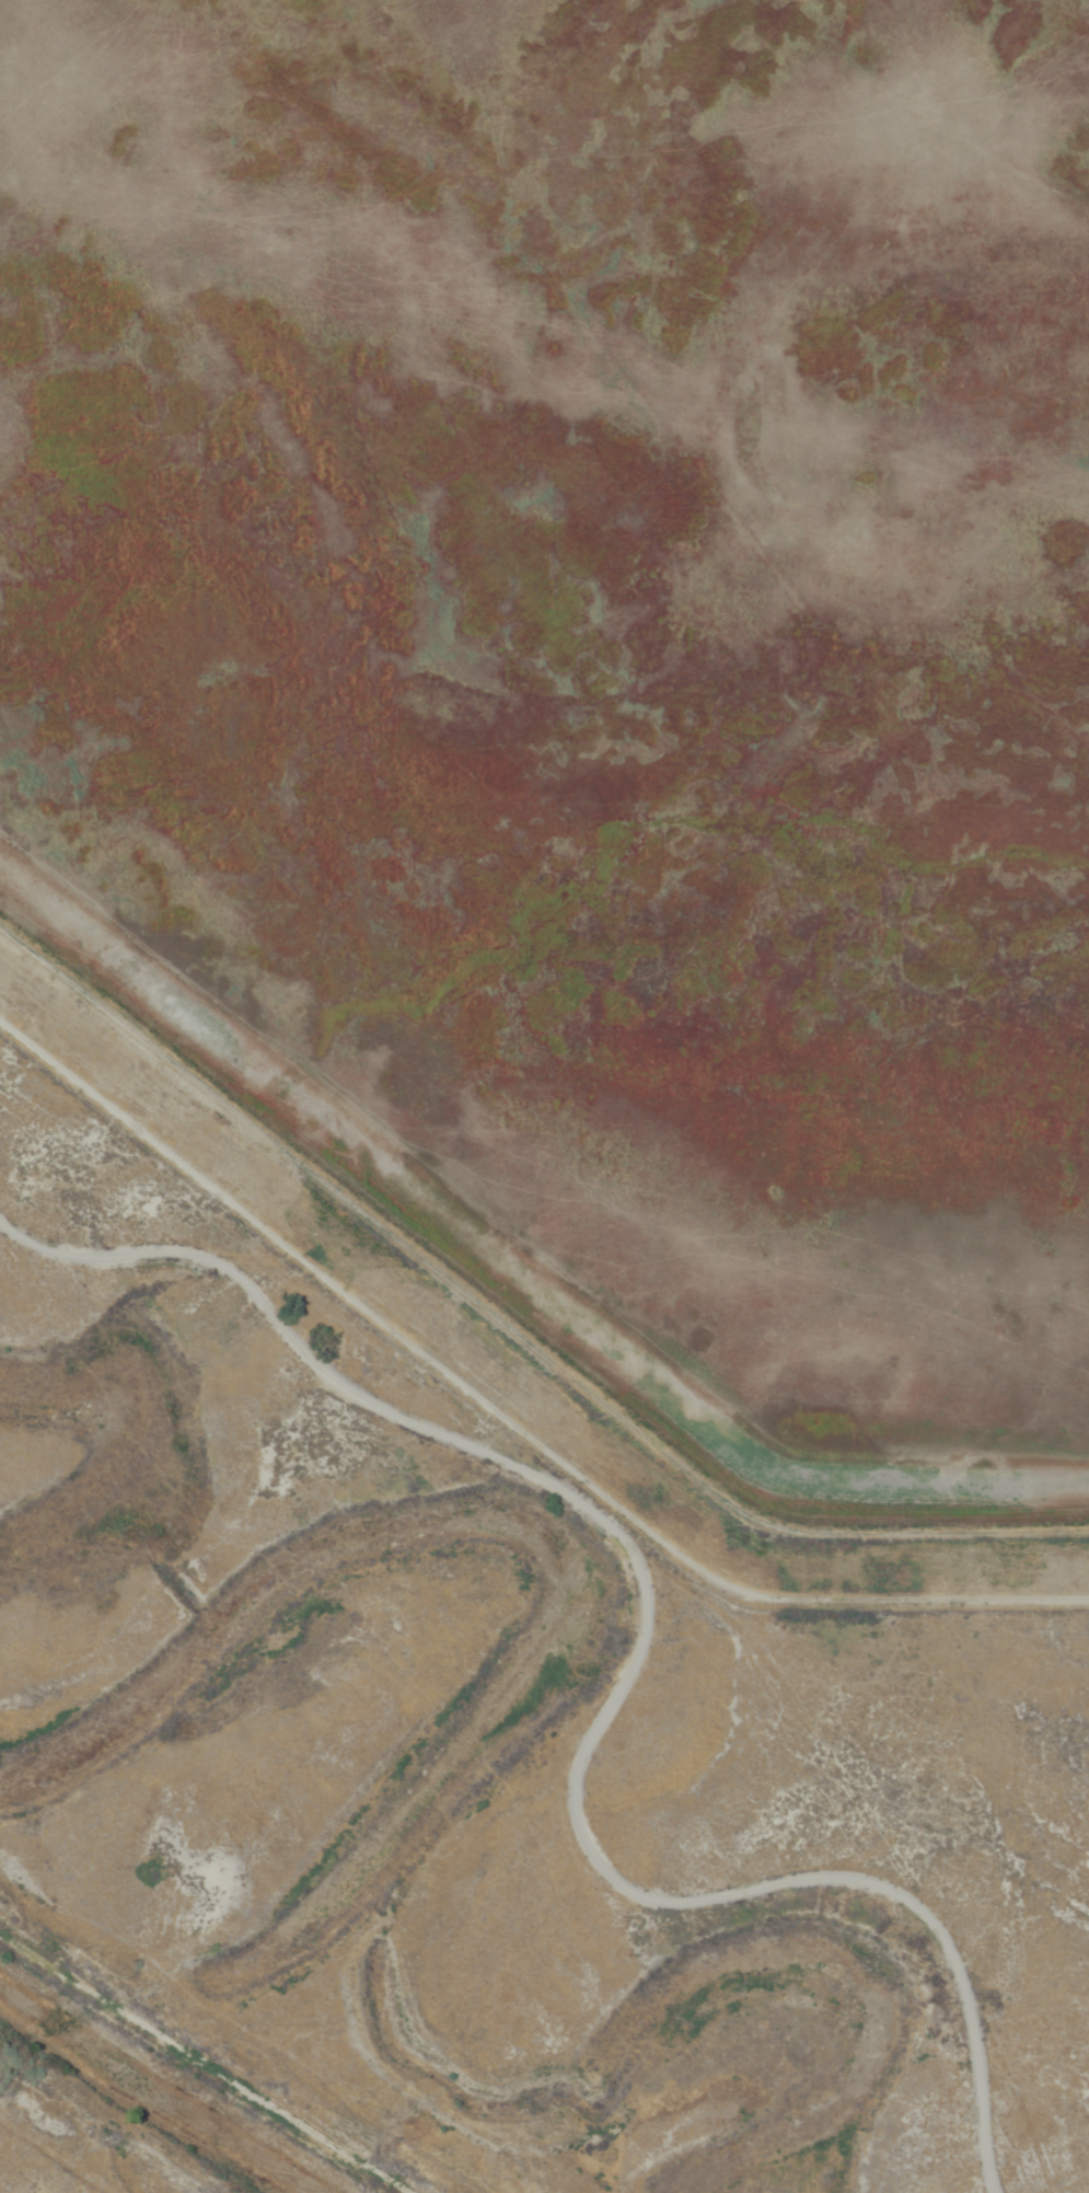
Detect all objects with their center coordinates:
crop: (589, 704)
road: (632, 1658)

